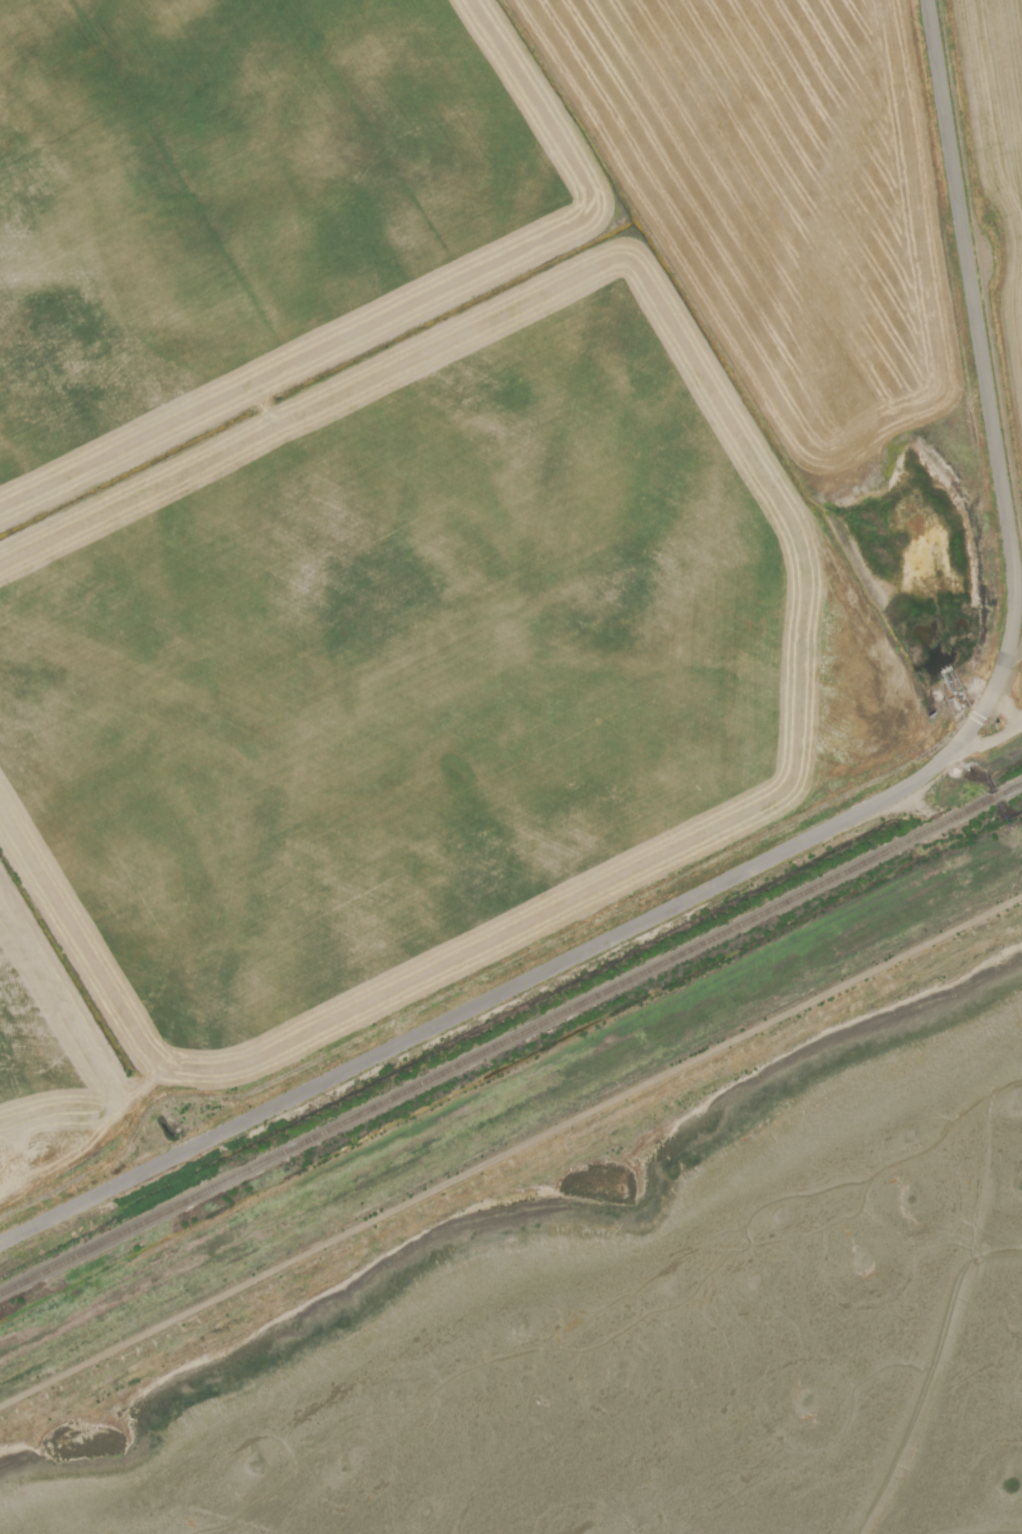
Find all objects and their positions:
road: (825, 832)
railway: (510, 1040)
road: (510, 1151)

